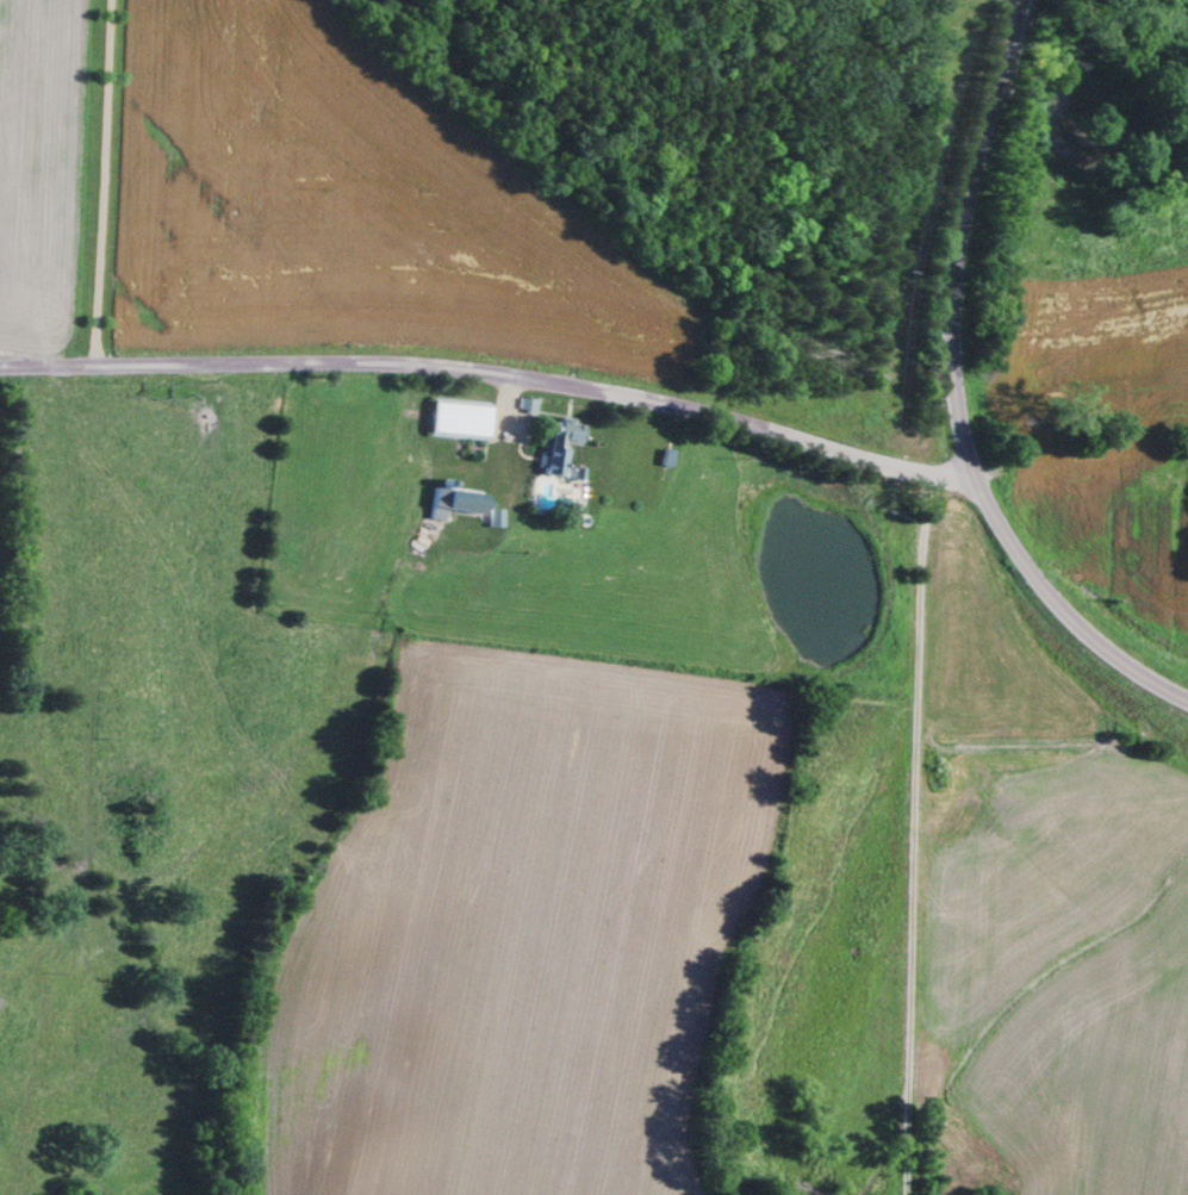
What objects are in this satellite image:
river: (1065, 144)
road: (490, 379)
road: (956, 394)
building: (458, 423)
building: (555, 447)
building: (663, 461)
building: (454, 504)
road: (916, 839)

